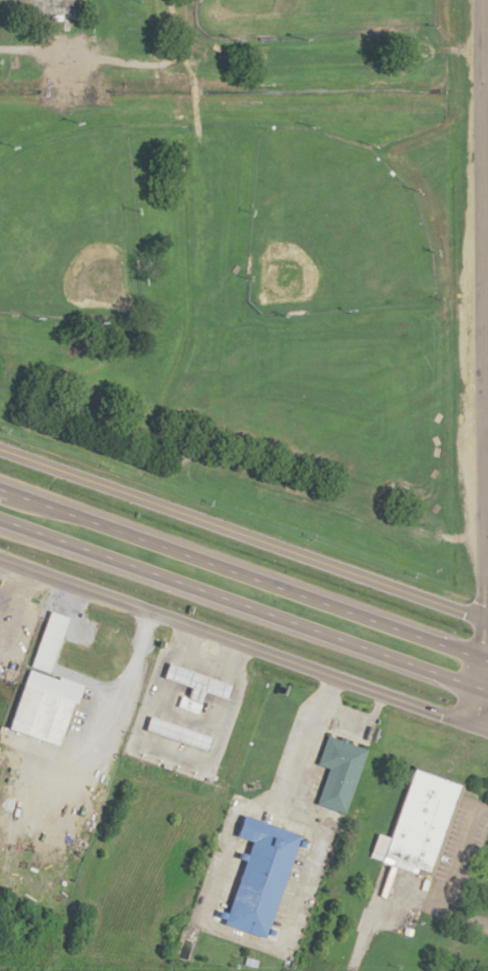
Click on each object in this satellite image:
building: (54, 8)
park: (303, 16)
road: (150, 32)
road: (134, 63)
park: (68, 224)
park: (331, 227)
park: (237, 257)
road: (480, 344)
park: (297, 356)
road: (484, 429)
road: (243, 537)
road: (244, 570)
road: (244, 608)
building: (52, 641)
road: (243, 646)
building: (200, 686)
road: (465, 704)
building: (46, 707)
building: (182, 732)
road: (93, 743)
building: (341, 772)
road: (299, 811)
building: (422, 821)
building: (265, 876)
road: (455, 911)

